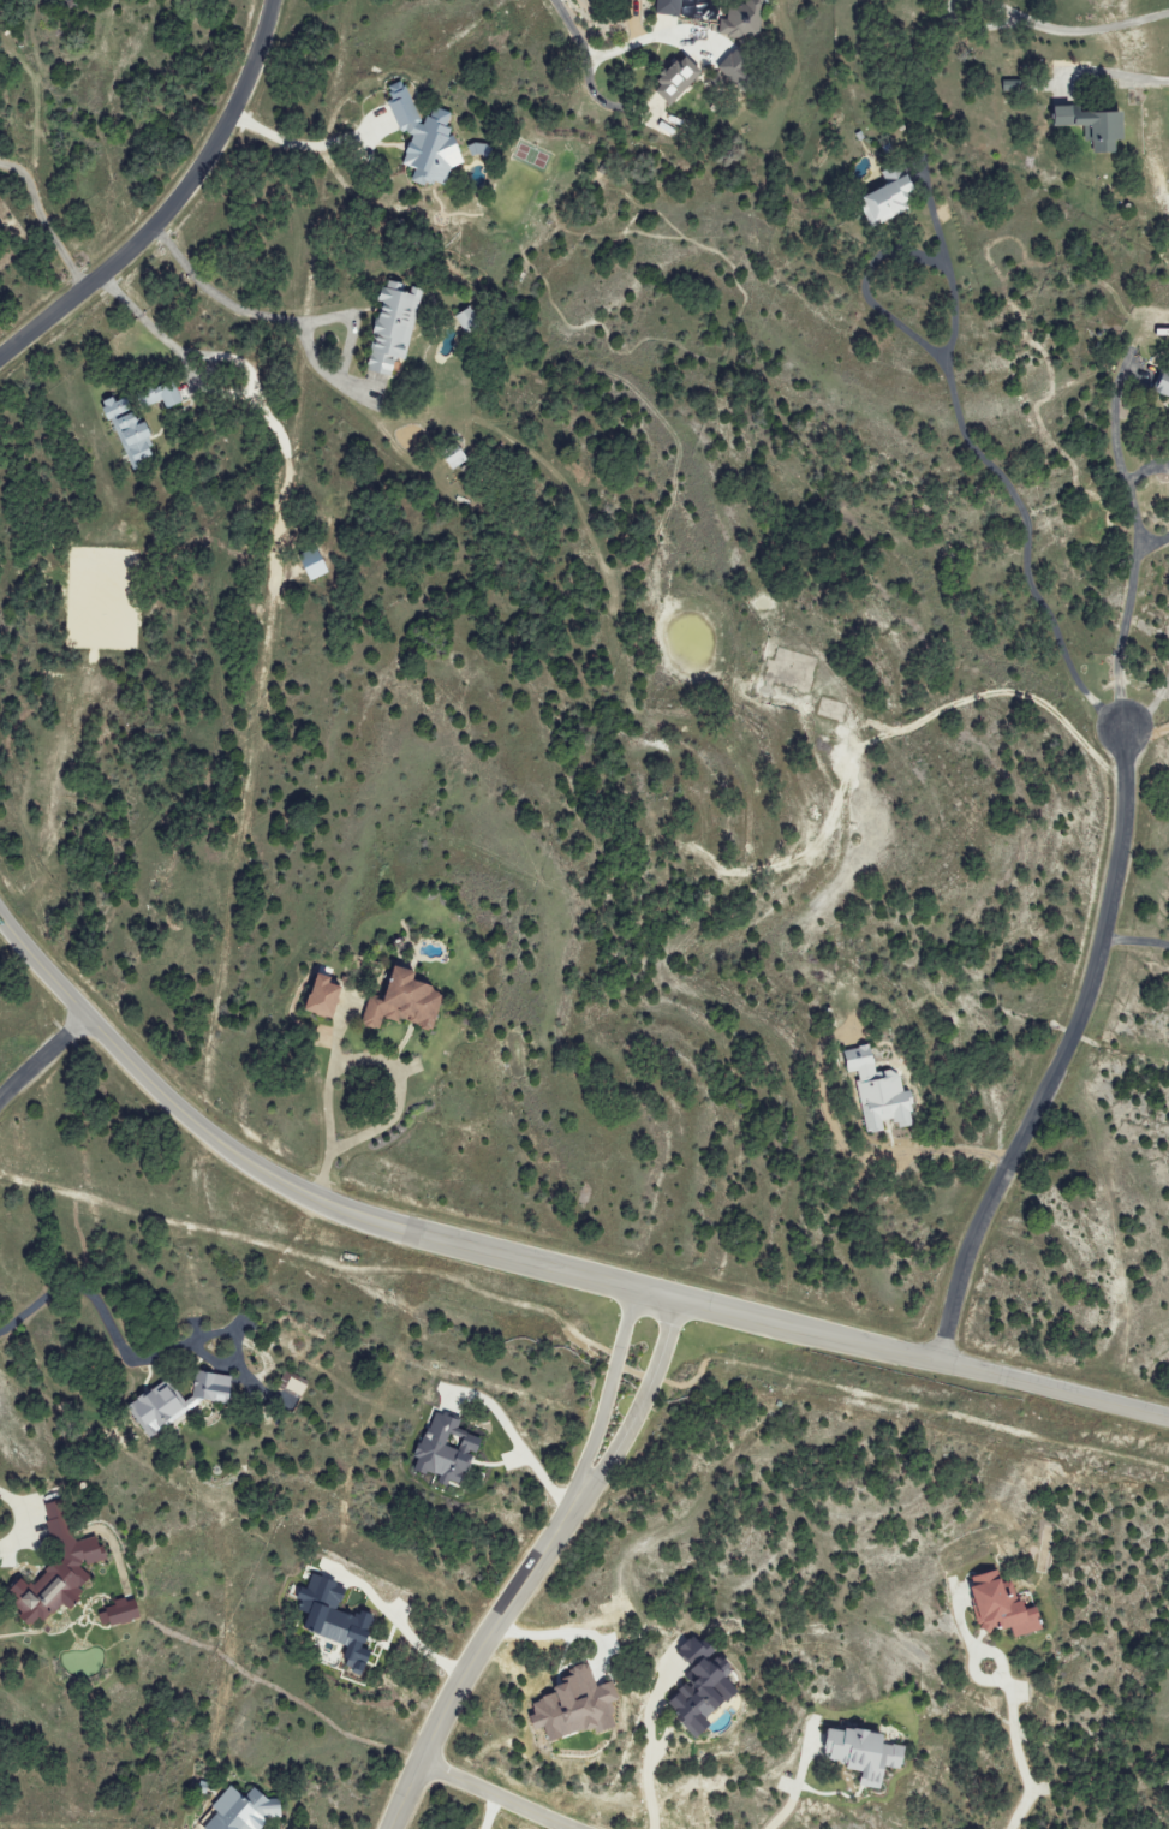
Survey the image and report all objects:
building: (670, 7)
building: (742, 20)
road: (1098, 24)
road: (603, 56)
building: (738, 70)
road: (1119, 70)
building: (679, 79)
building: (1098, 126)
building: (427, 139)
building: (891, 201)
road: (171, 207)
road: (46, 225)
road: (865, 293)
road: (237, 309)
building: (469, 322)
road: (154, 328)
building: (395, 328)
building: (1163, 383)
building: (165, 395)
building: (131, 431)
building: (457, 459)
road: (1146, 471)
road: (998, 477)
road: (1152, 546)
road: (1137, 550)
building: (315, 564)
road: (1150, 710)
road: (1146, 733)
road: (1135, 935)
building: (327, 996)
building: (407, 1002)
road: (41, 1058)
road: (1061, 1058)
road: (395, 1076)
building: (878, 1092)
road: (961, 1146)
road: (531, 1262)
road: (314, 1263)
road: (106, 1321)
road: (608, 1389)
building: (179, 1401)
road: (642, 1402)
road: (884, 1404)
building: (448, 1450)
road: (26, 1520)
building: (59, 1569)
building: (1004, 1607)
building: (123, 1613)
building: (338, 1621)
road: (478, 1652)
building: (703, 1688)
building: (579, 1706)
road: (652, 1744)
building: (865, 1751)
road: (1024, 1751)
road: (797, 1788)
road: (490, 1798)
building: (245, 1810)

